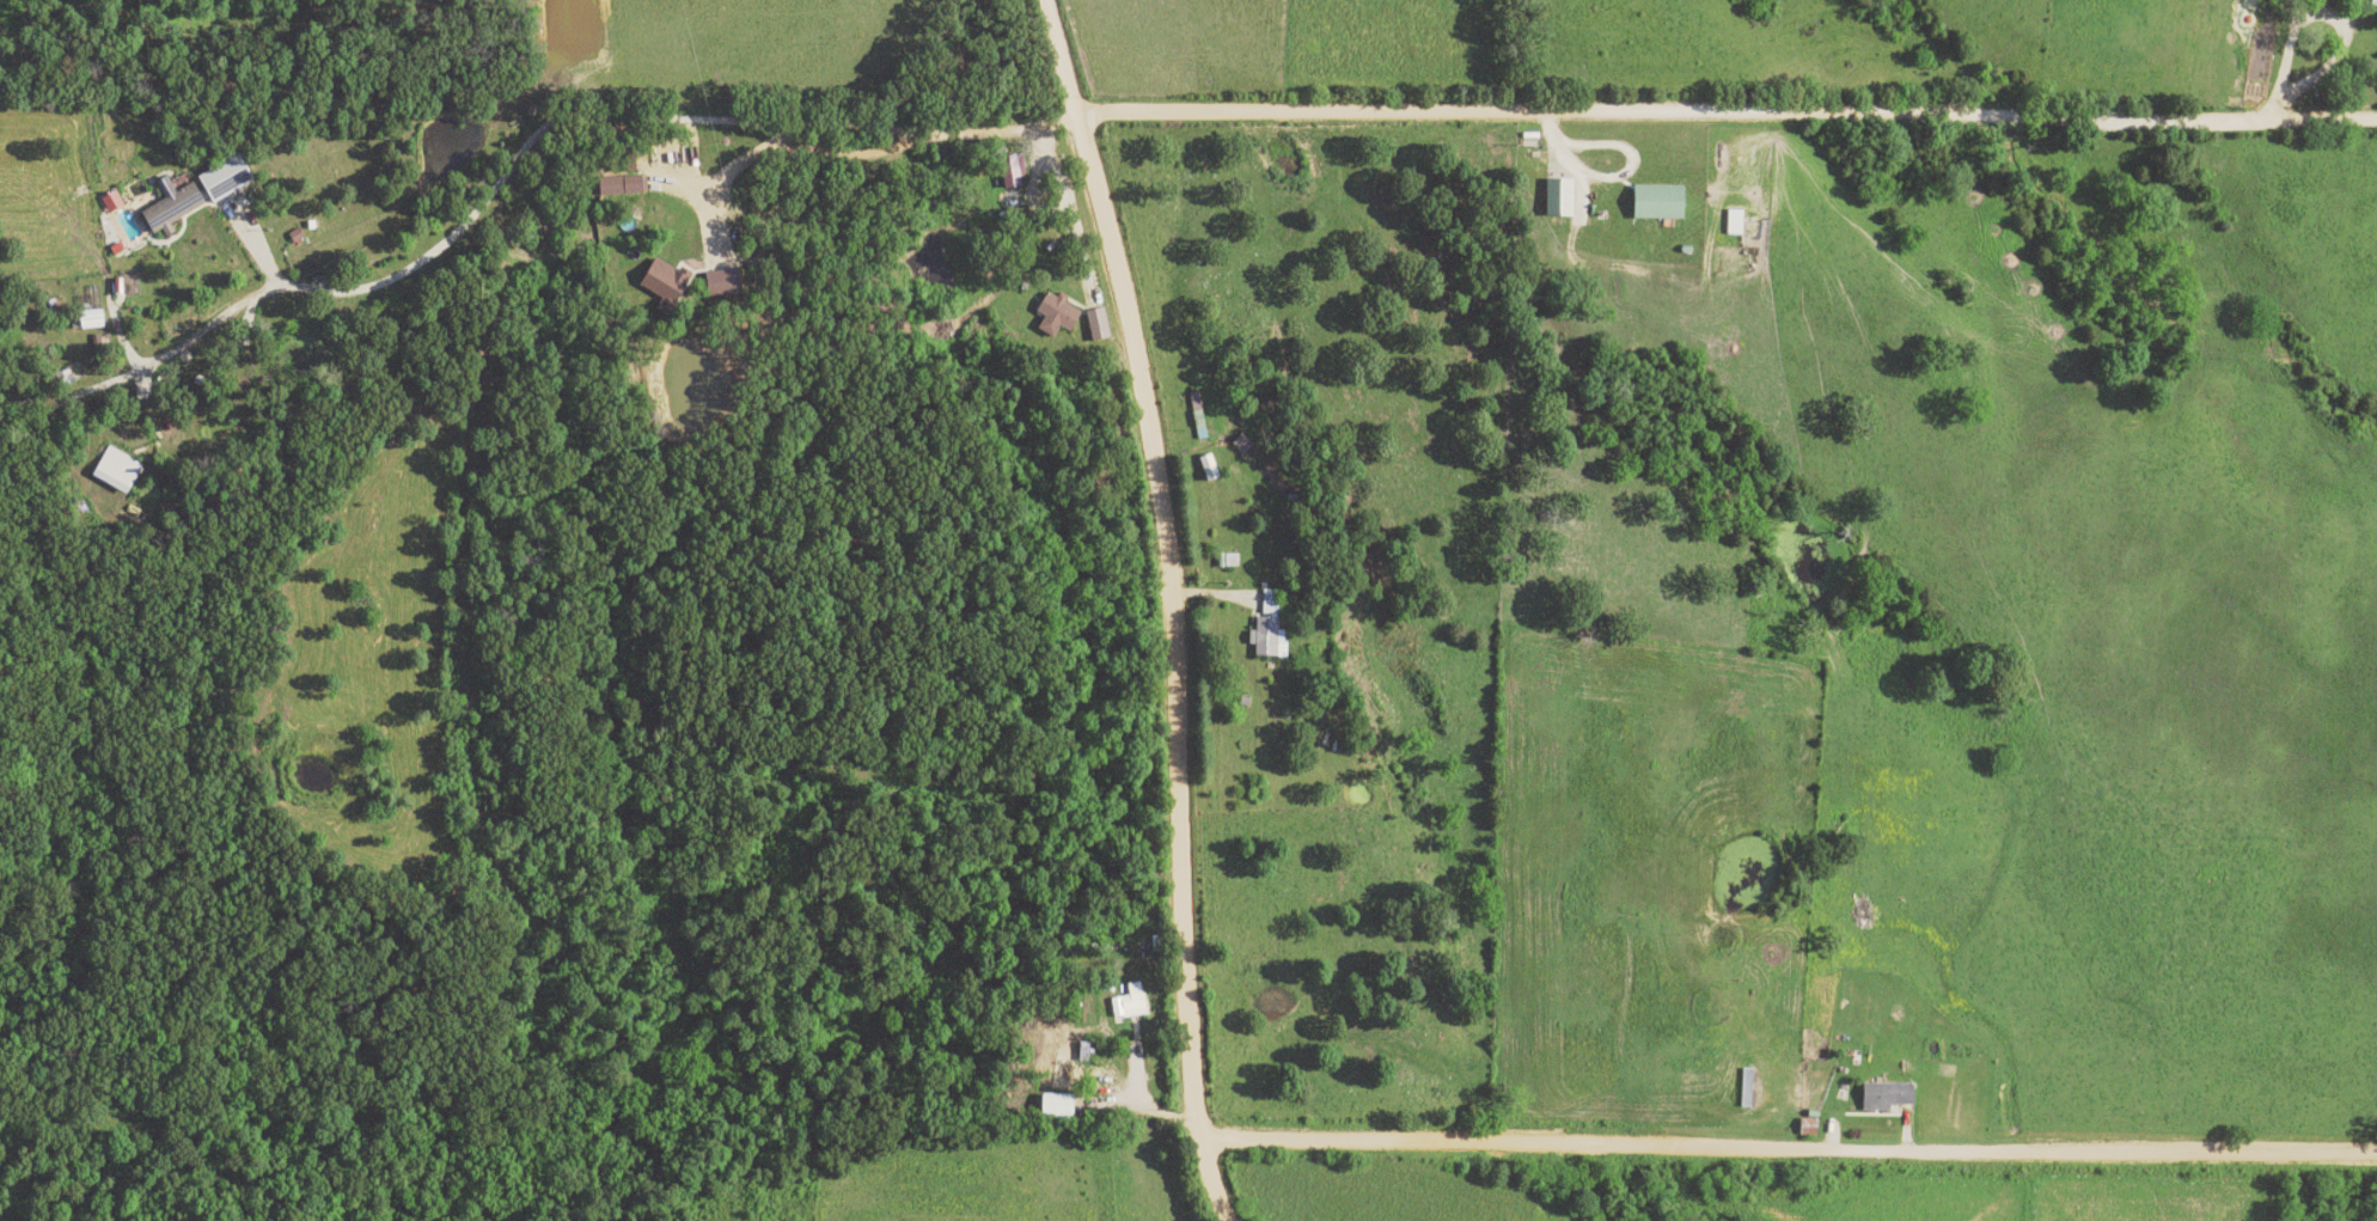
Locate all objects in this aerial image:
building: (2373, 2)
road: (2330, 63)
road: (2280, 67)
road: (1723, 116)
road: (555, 118)
building: (1010, 171)
building: (220, 178)
building: (619, 185)
building: (1556, 197)
building: (109, 201)
building: (1655, 202)
building: (169, 207)
building: (1733, 222)
building: (661, 281)
building: (720, 283)
building: (1053, 315)
building: (88, 319)
building: (1096, 324)
building: (115, 470)
road: (1202, 602)
road: (1162, 605)
building: (1266, 629)
building: (1129, 1001)
building: (1883, 1095)
building: (1053, 1104)
road: (1864, 1106)
road: (1132, 1115)
road: (1784, 1155)

